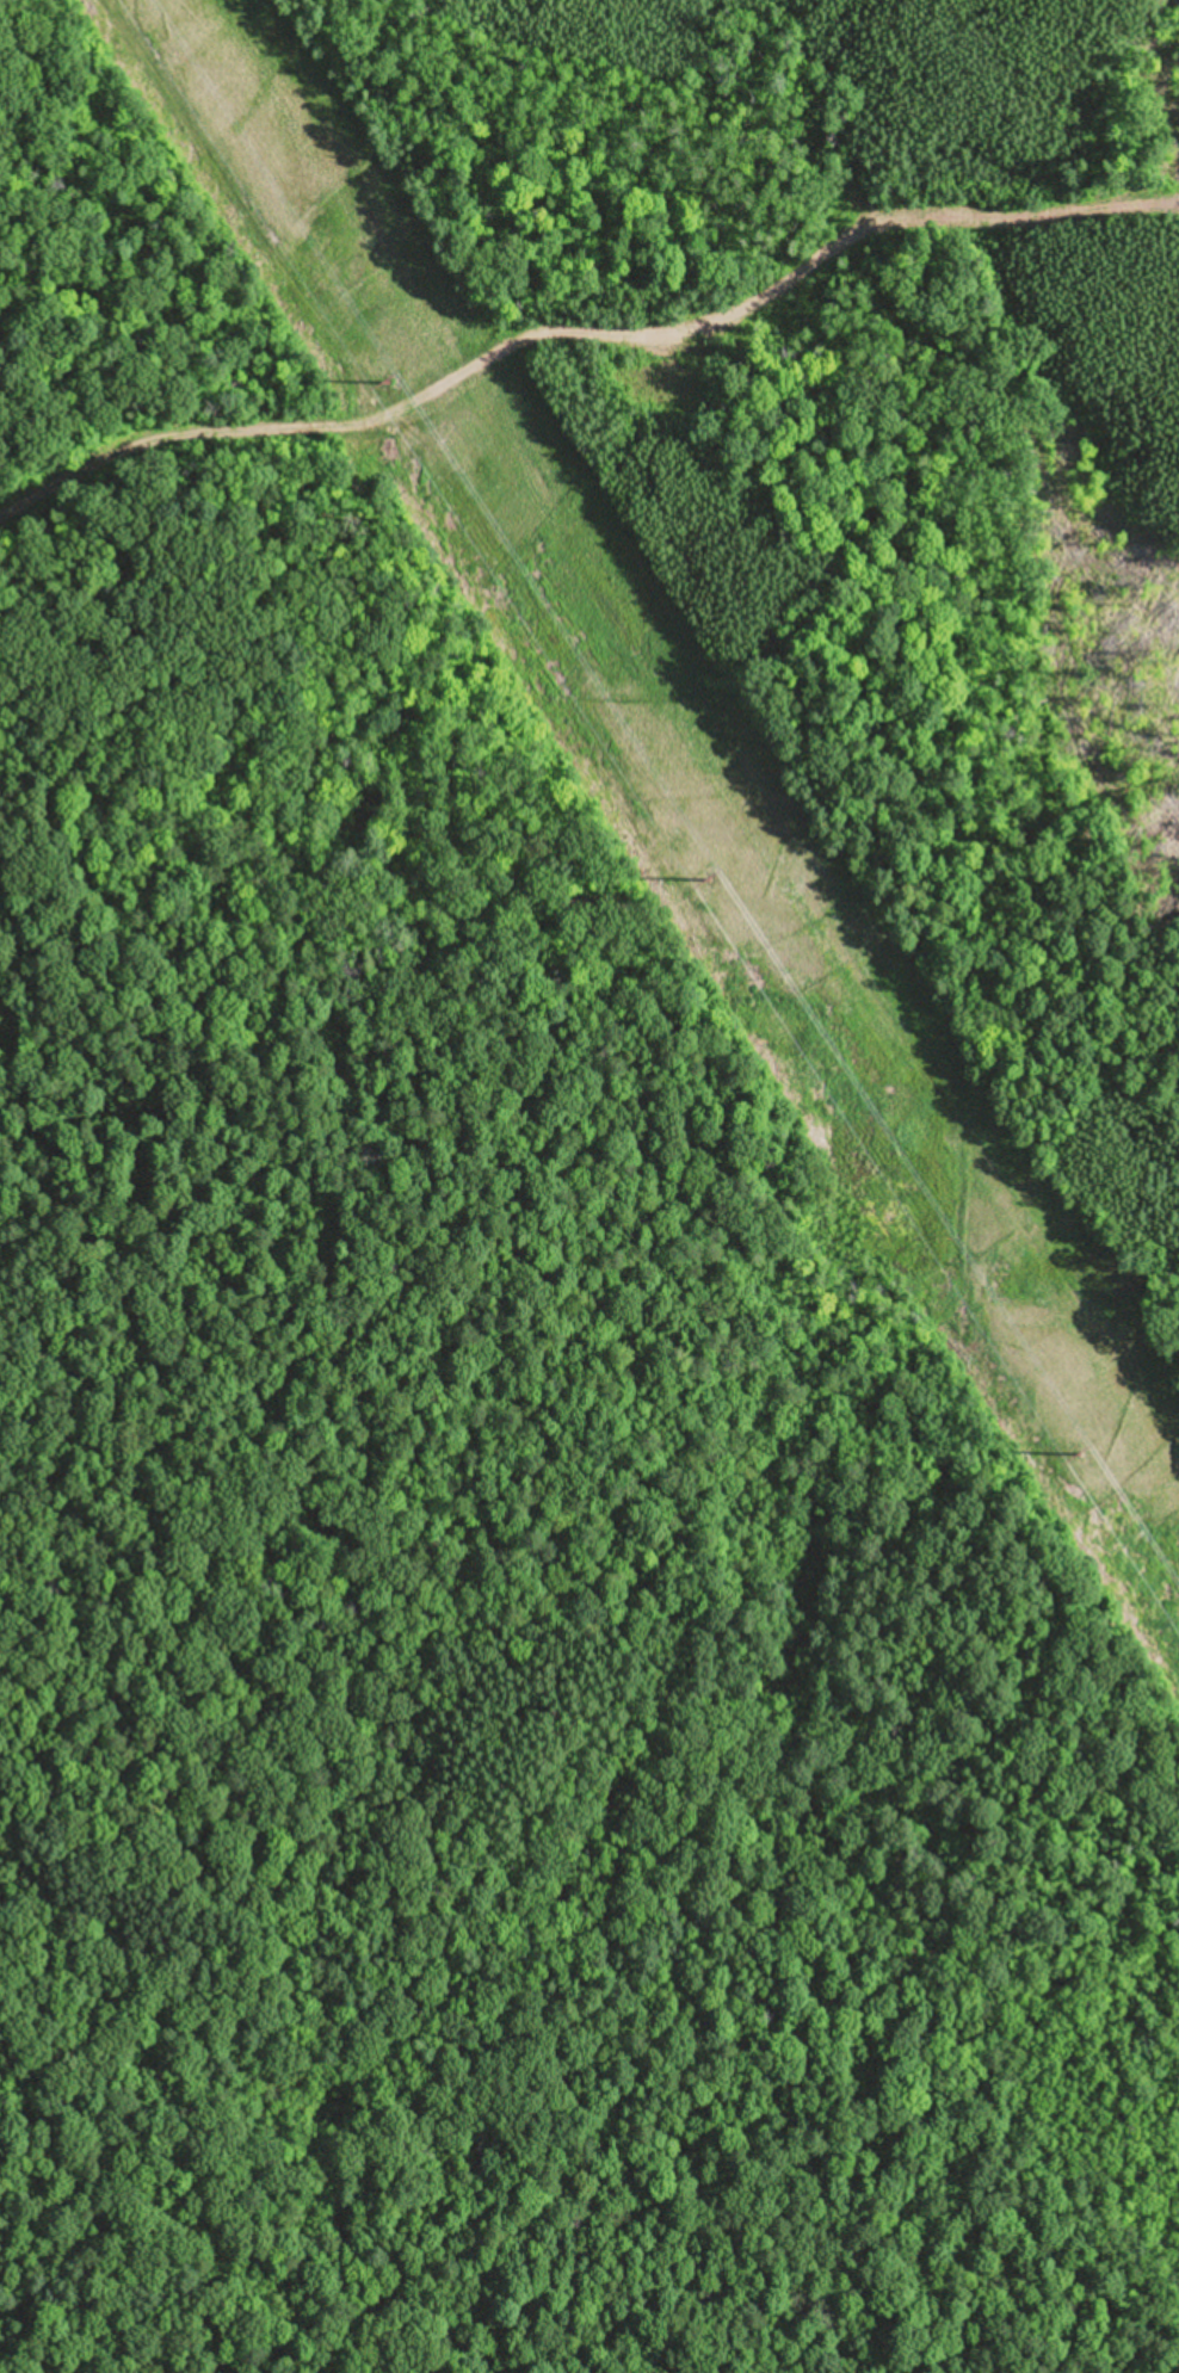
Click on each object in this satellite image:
power tower: (391, 378)
power tower: (714, 876)
power tower: (1082, 1452)

